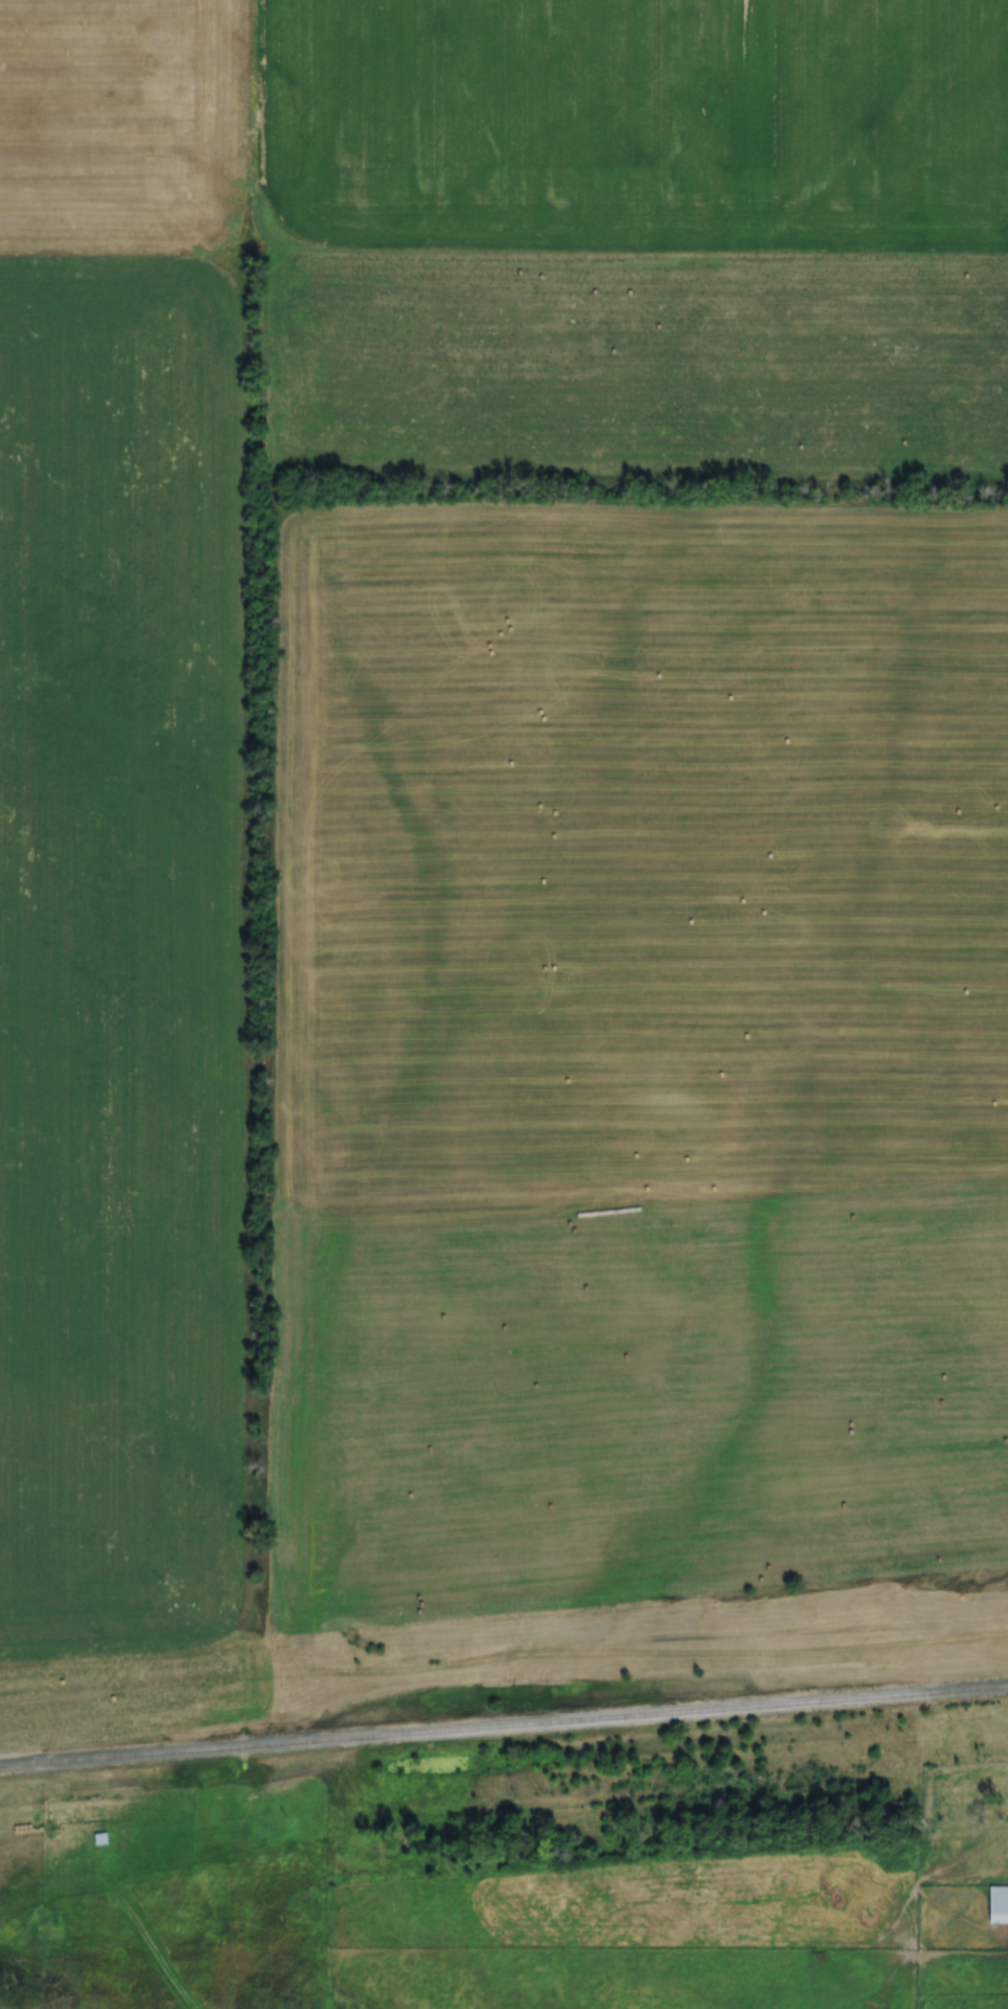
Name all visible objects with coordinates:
railway: (504, 1723)
building: (99, 1840)
building: (998, 1906)

